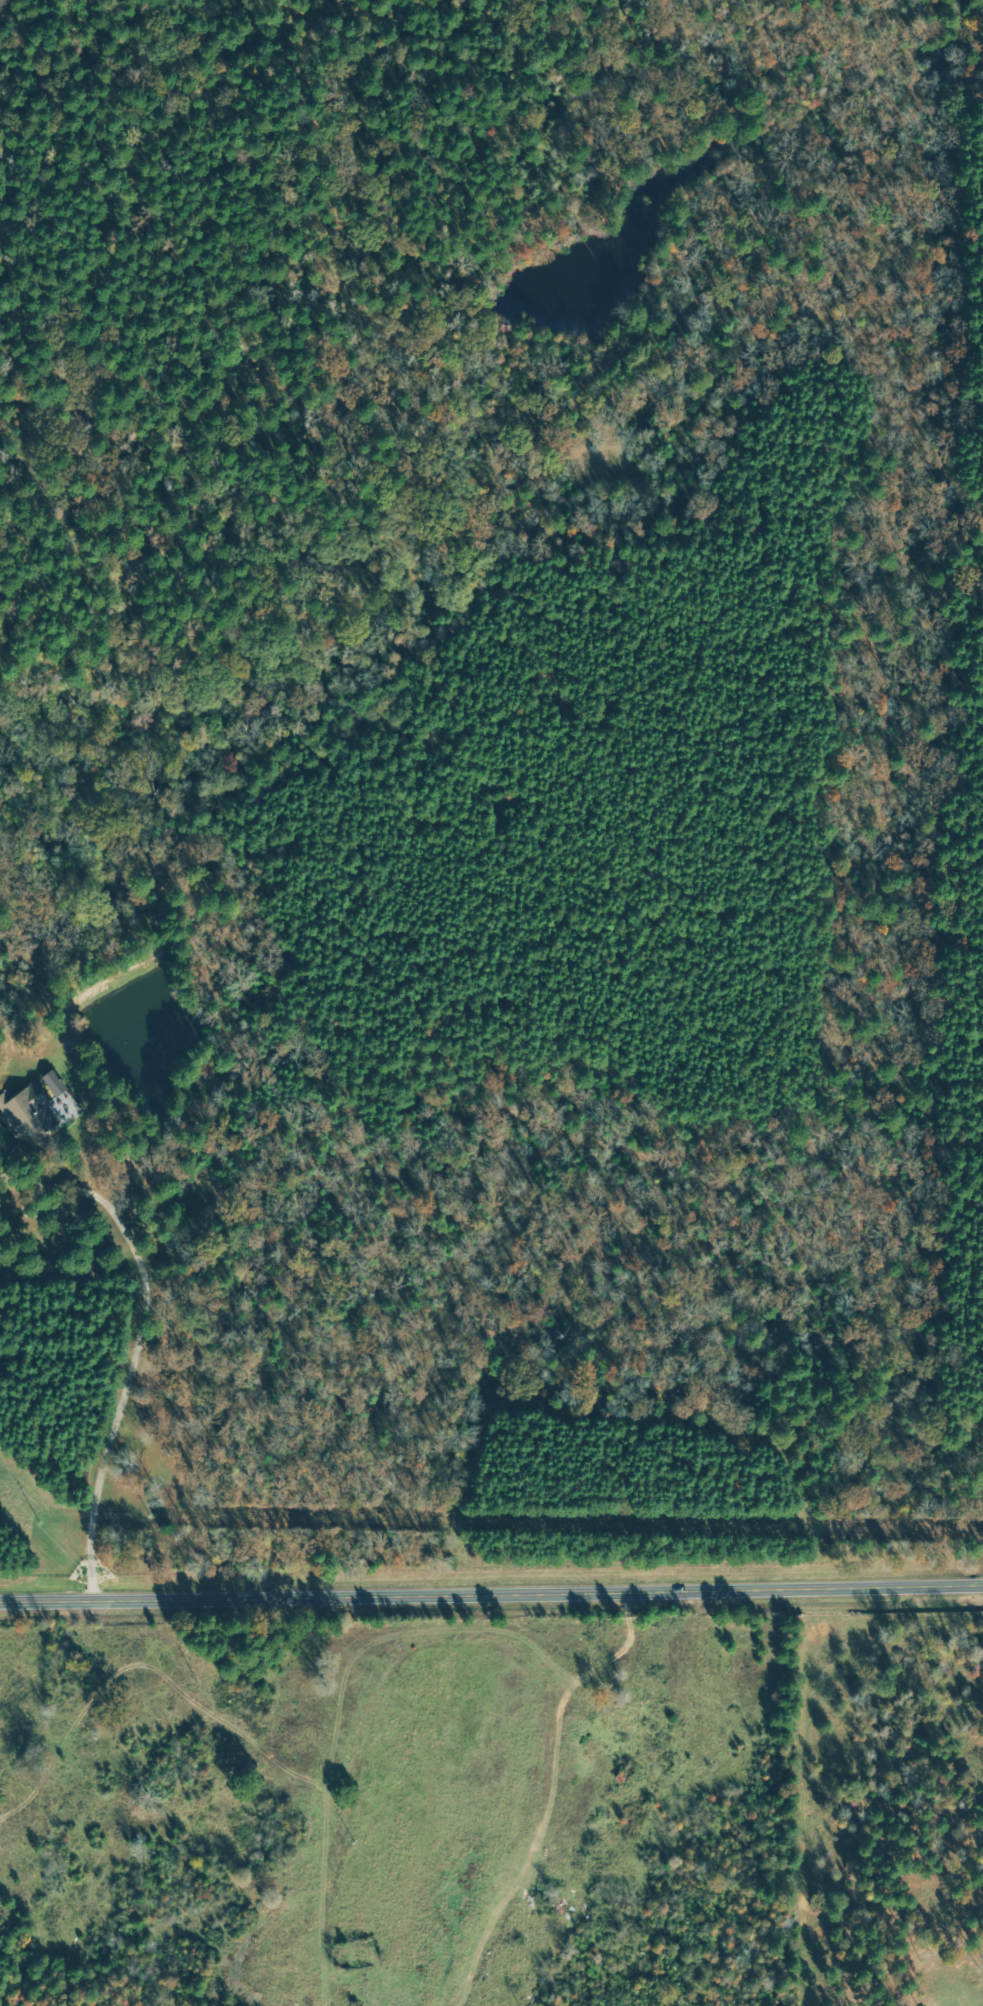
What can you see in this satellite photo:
building: (60, 1097)
building: (25, 1115)
road: (132, 1372)
road: (491, 1596)

